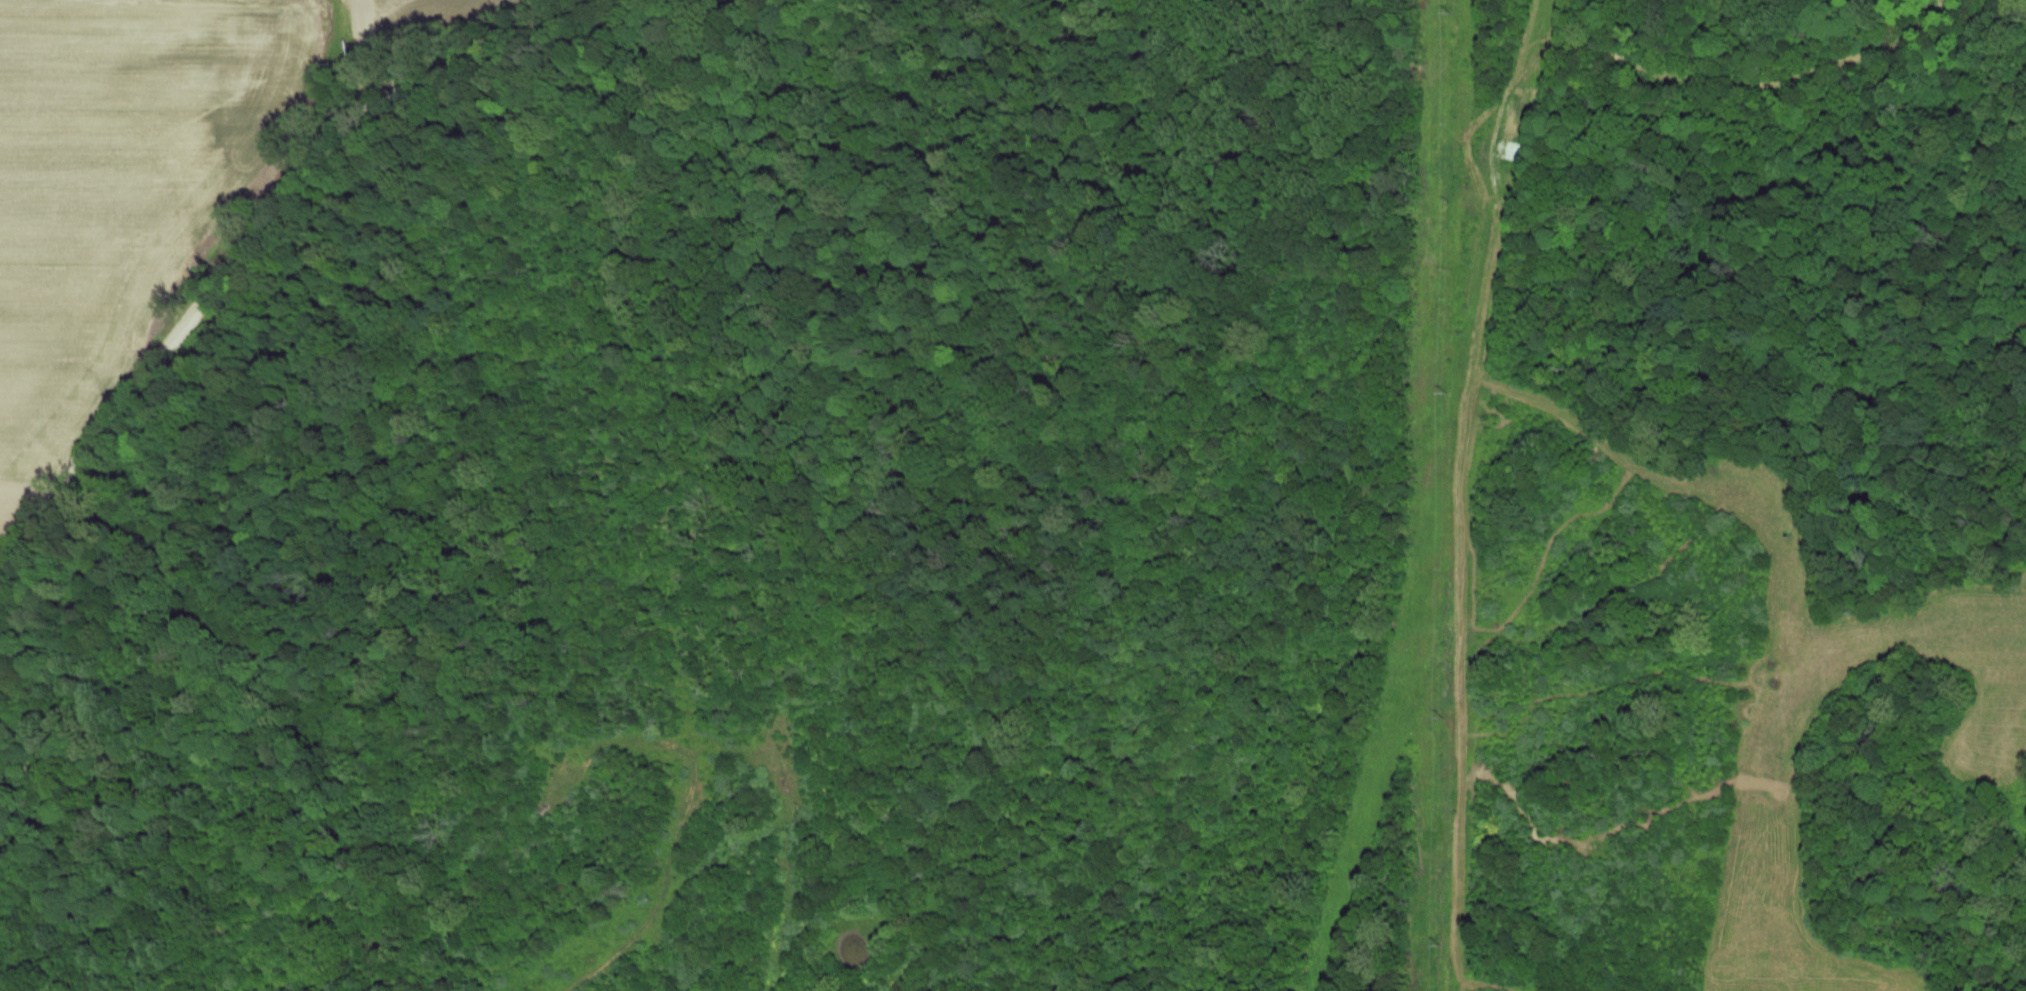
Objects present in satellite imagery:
road: (258, 228)

